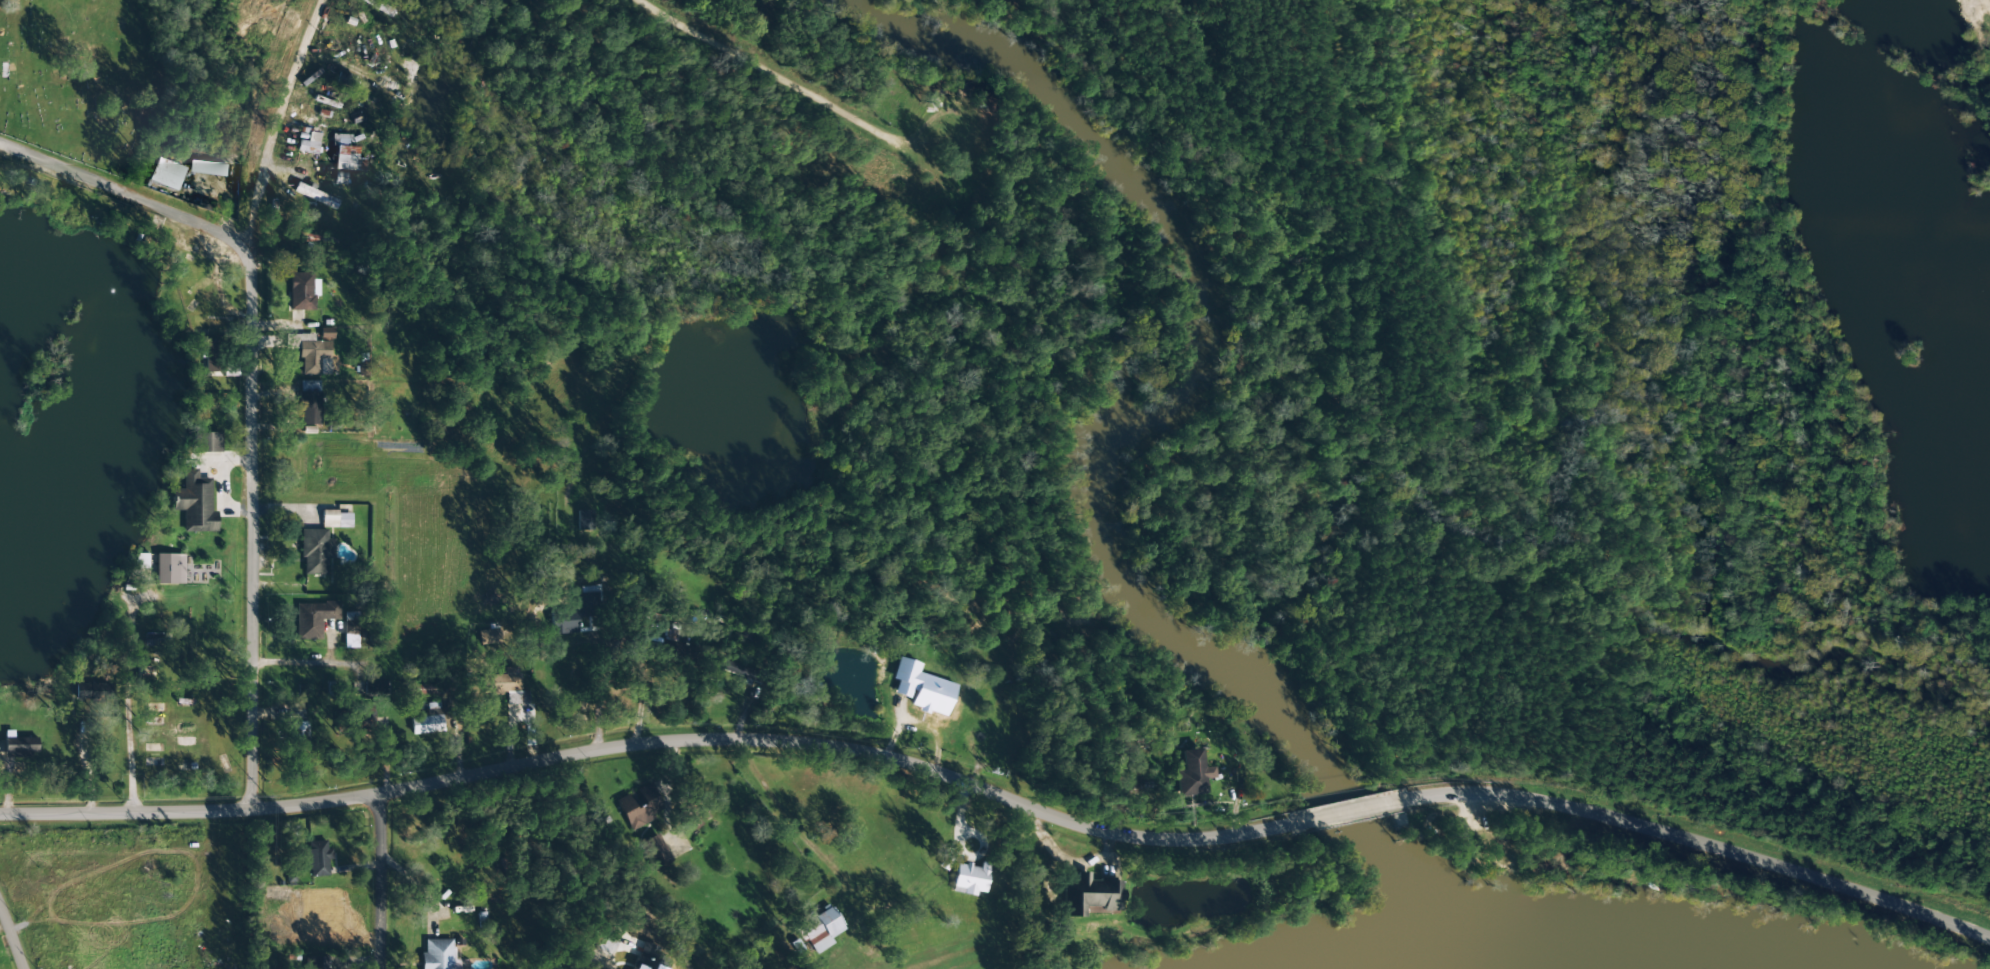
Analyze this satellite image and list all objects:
road: (279, 130)
building: (309, 143)
building: (346, 154)
road: (992, 160)
building: (206, 167)
building: (165, 173)
building: (340, 177)
building: (313, 194)
building: (302, 290)
building: (326, 332)
building: (299, 337)
building: (211, 354)
building: (314, 357)
road: (252, 386)
building: (309, 402)
building: (207, 441)
building: (195, 502)
building: (584, 519)
building: (315, 551)
building: (169, 568)
building: (577, 609)
building: (314, 617)
building: (489, 633)
building: (351, 634)
road: (293, 661)
building: (734, 668)
road: (1855, 674)
building: (906, 676)
road: (706, 681)
building: (504, 685)
building: (375, 687)
building: (413, 689)
building: (92, 691)
building: (365, 716)
building: (427, 722)
building: (298, 733)
road: (657, 743)
building: (19, 746)
building: (1191, 773)
road: (775, 804)
building: (640, 807)
road: (1347, 812)
building: (691, 821)
road: (1696, 842)
building: (655, 851)
building: (317, 857)
road: (373, 878)
building: (970, 878)
building: (1090, 894)
building: (819, 929)
road: (14, 935)
river: (1571, 941)
building: (438, 955)
building: (316, 962)

